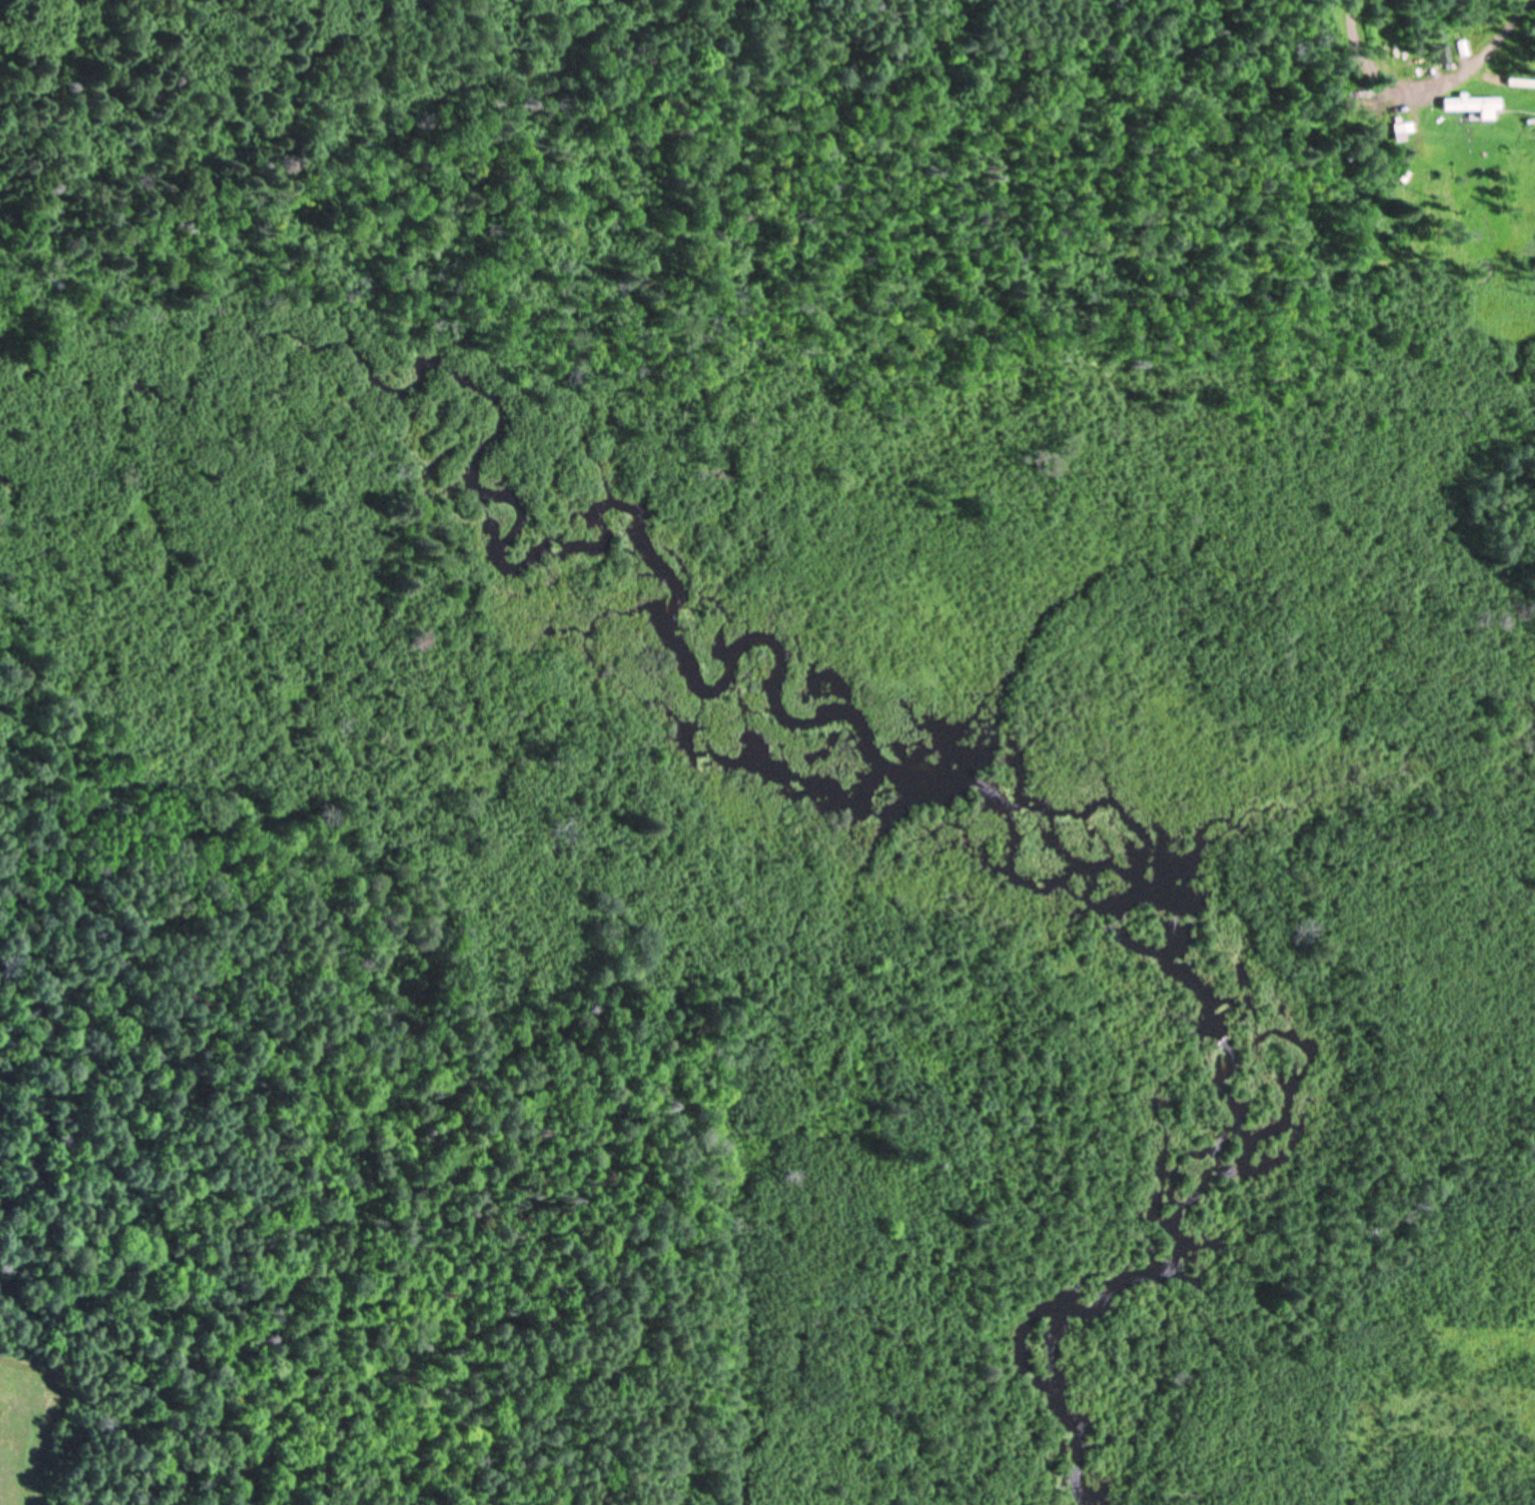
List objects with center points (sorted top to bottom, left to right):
building: (1447, 52)
building: (1477, 104)

